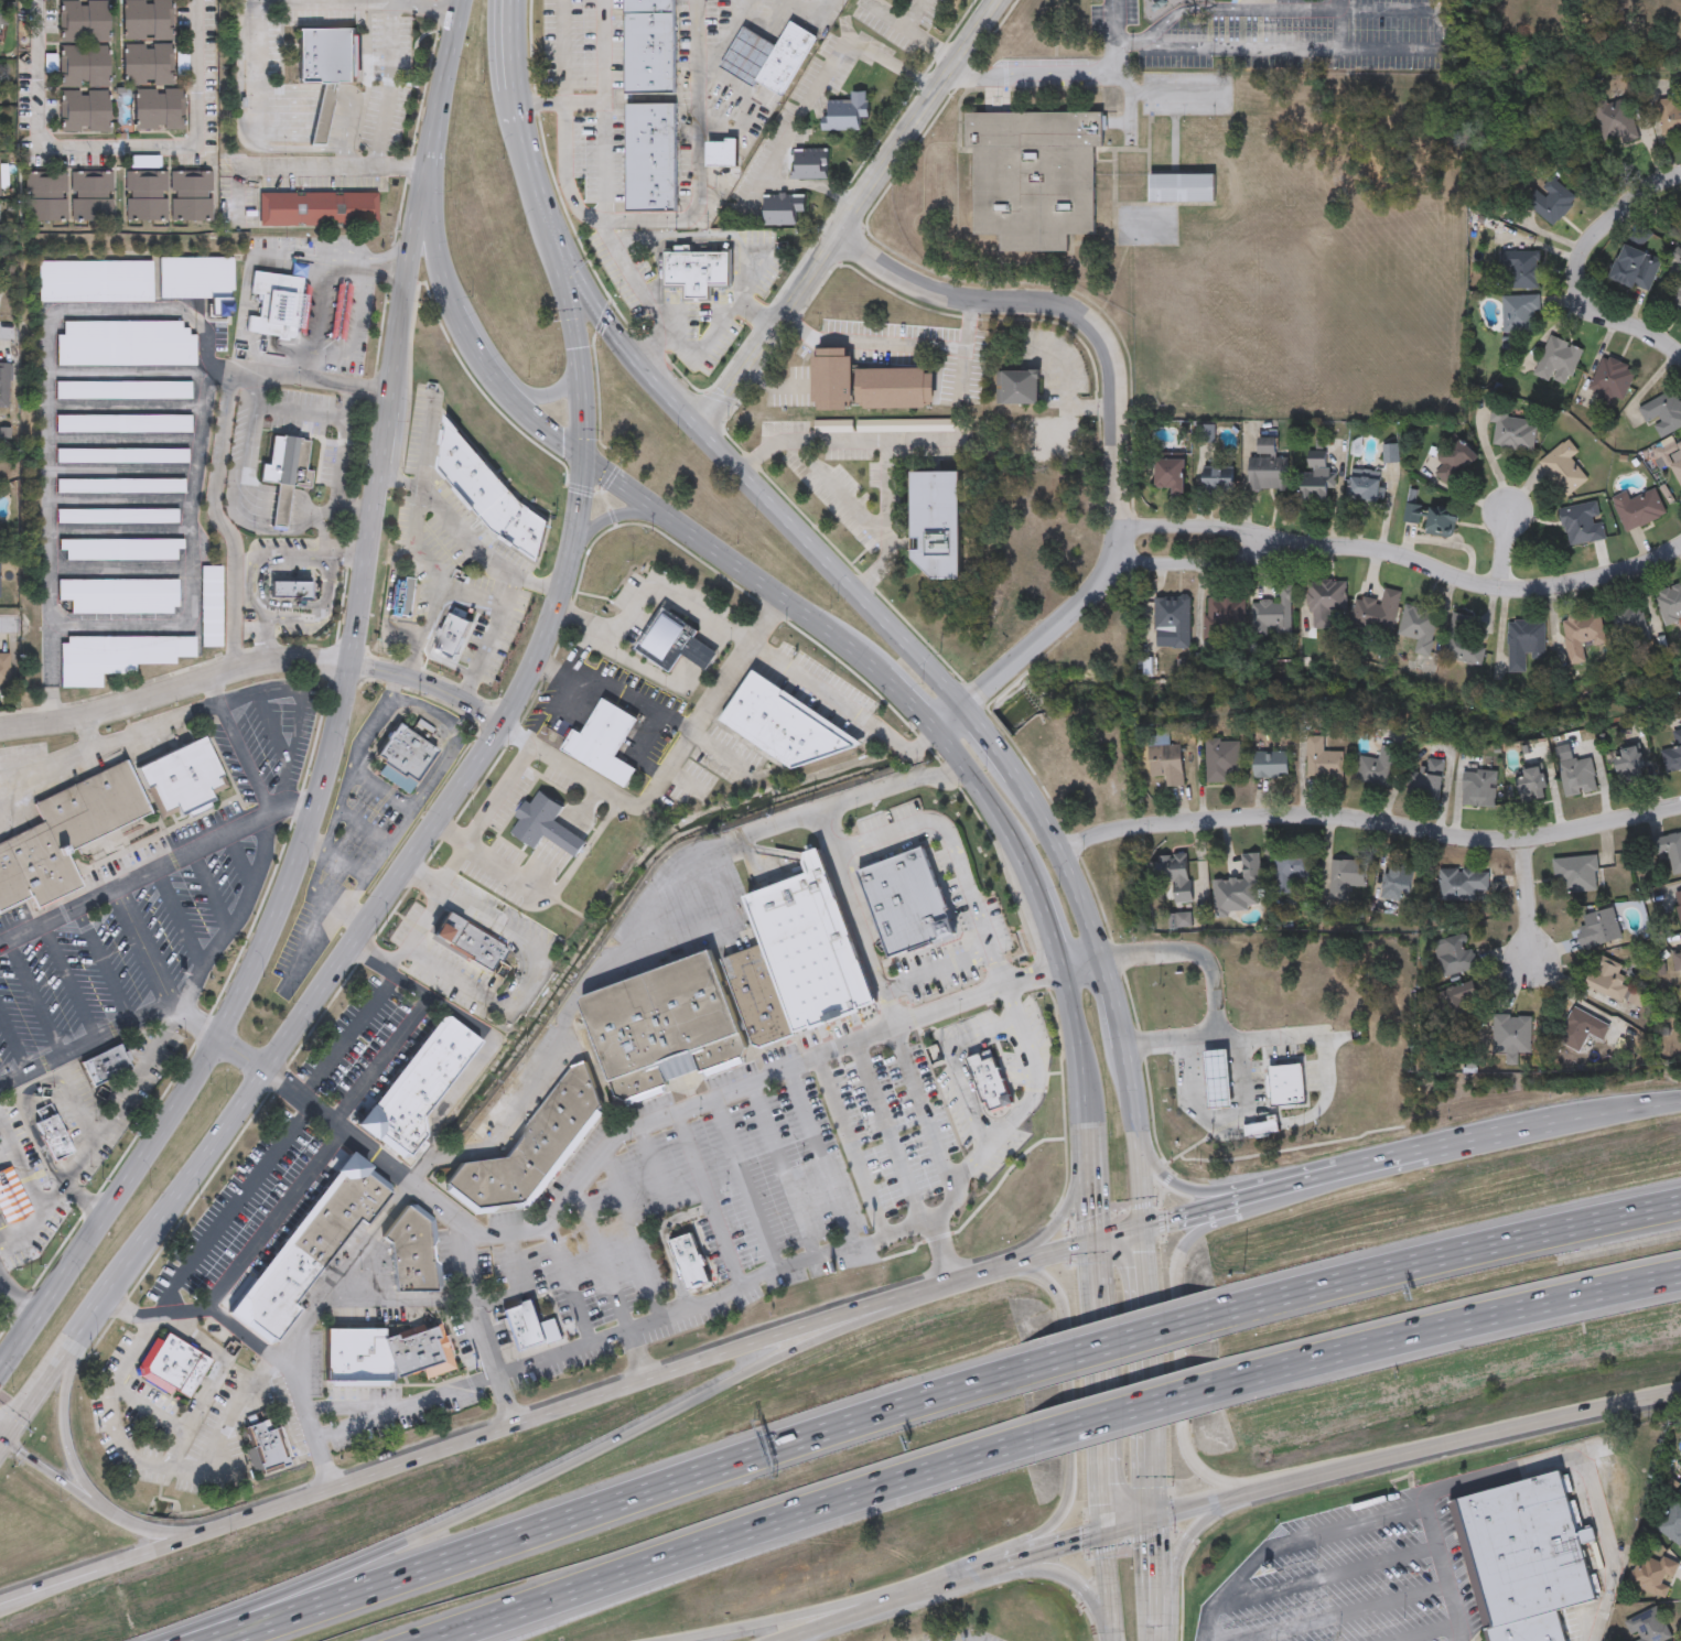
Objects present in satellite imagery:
road: (369, 0)
road: (398, 1)
building: (1548, 1)
building: (83, 21)
building: (146, 21)
building: (1677, 41)
road: (511, 43)
building: (650, 46)
road: (1253, 48)
road: (562, 52)
building: (327, 55)
road: (258, 58)
building: (771, 58)
building: (83, 65)
building: (147, 65)
road: (1071, 73)
road: (200, 75)
road: (390, 85)
road: (1164, 93)
road: (516, 97)
building: (159, 109)
road: (801, 109)
building: (83, 110)
road: (323, 114)
building: (849, 114)
road: (289, 115)
building: (1670, 118)
building: (1617, 122)
road: (346, 133)
road: (50, 140)
road: (429, 154)
building: (722, 154)
building: (651, 159)
road: (891, 159)
building: (811, 165)
road: (328, 166)
road: (531, 173)
building: (1034, 179)
building: (1182, 190)
building: (46, 196)
building: (91, 196)
building: (146, 196)
building: (190, 196)
building: (1551, 202)
building: (319, 210)
building: (783, 210)
road: (666, 218)
road: (381, 259)
building: (1521, 268)
building: (1637, 269)
road: (1575, 271)
building: (697, 272)
road: (378, 276)
building: (96, 282)
building: (200, 283)
building: (282, 292)
building: (1675, 296)
traffic signals: (596, 313)
building: (1520, 314)
road: (675, 339)
road: (762, 339)
building: (126, 345)
road: (471, 346)
road: (578, 346)
road: (893, 346)
road: (654, 350)
traffic signals: (579, 354)
road: (317, 357)
building: (1559, 363)
building: (7, 370)
road: (276, 374)
road: (961, 376)
building: (832, 380)
building: (1614, 380)
road: (773, 386)
building: (1021, 388)
building: (895, 390)
building: (126, 392)
road: (549, 393)
road: (721, 396)
road: (285, 408)
road: (1113, 409)
building: (1662, 414)
building: (125, 425)
building: (1515, 432)
road: (886, 445)
road: (50, 446)
building: (1268, 447)
building: (1679, 447)
building: (1391, 454)
building: (123, 456)
traffic signals: (575, 458)
building: (1455, 462)
road: (341, 463)
road: (244, 467)
building: (1564, 469)
building: (1677, 472)
building: (1268, 474)
building: (1170, 475)
building: (284, 476)
road: (744, 478)
building: (1218, 479)
building: (1318, 482)
building: (121, 488)
building: (1365, 490)
road: (193, 494)
road: (837, 494)
building: (488, 496)
building: (1639, 509)
road: (280, 510)
road: (311, 511)
building: (1414, 515)
building: (117, 518)
road: (224, 521)
road: (610, 521)
building: (1442, 522)
building: (1583, 523)
building: (936, 526)
road: (1193, 526)
road: (683, 530)
road: (461, 537)
building: (0, 538)
road: (1502, 549)
building: (120, 550)
road: (257, 557)
road: (345, 558)
road: (1194, 563)
road: (1474, 583)
building: (290, 591)
road: (647, 594)
road: (507, 595)
building: (119, 597)
building: (401, 600)
building: (1326, 600)
building: (1670, 605)
building: (211, 608)
road: (317, 612)
building: (1377, 614)
building: (1274, 616)
building: (1222, 618)
building: (1174, 620)
road: (9, 622)
building: (1420, 628)
building: (1629, 628)
road: (492, 631)
building: (1582, 636)
road: (429, 637)
road: (267, 639)
building: (1468, 639)
building: (451, 641)
building: (672, 641)
building: (1527, 645)
road: (577, 656)
building: (117, 658)
road: (250, 668)
building: (4, 669)
road: (390, 685)
road: (615, 687)
road: (712, 699)
road: (908, 702)
road: (384, 703)
road: (842, 710)
road: (546, 711)
road: (947, 719)
building: (784, 725)
road: (140, 730)
road: (987, 739)
building: (601, 741)
road: (238, 748)
building: (402, 756)
building: (1673, 756)
building: (1322, 760)
building: (1224, 762)
building: (1166, 765)
building: (1630, 766)
road: (45, 767)
road: (570, 767)
building: (1271, 767)
building: (1377, 769)
building: (1578, 778)
building: (182, 779)
building: (1426, 781)
road: (317, 786)
building: (1532, 786)
building: (1479, 789)
road: (499, 795)
road: (988, 800)
building: (545, 824)
road: (1369, 824)
building: (65, 833)
road: (463, 848)
road: (311, 850)
building: (1670, 851)
road: (953, 853)
road: (1064, 862)
road: (368, 866)
building: (1290, 872)
building: (1577, 874)
road: (132, 877)
building: (1347, 877)
building: (1178, 882)
building: (1398, 883)
building: (1462, 885)
road: (309, 886)
road: (557, 888)
building: (1240, 889)
road: (1527, 899)
building: (906, 902)
parking lot: (155, 905)
building: (1678, 905)
road: (58, 911)
road: (423, 911)
road: (1047, 922)
building: (1599, 930)
road: (862, 932)
road: (518, 935)
building: (468, 940)
building: (809, 947)
building: (1456, 959)
road: (103, 961)
building: (1678, 962)
road: (1080, 963)
road: (331, 969)
road: (936, 969)
road: (454, 978)
road: (67, 979)
building: (1608, 981)
road: (1207, 989)
road: (179, 992)
road: (33, 994)
building: (758, 995)
road: (1113, 1000)
building: (1458, 1013)
building: (662, 1027)
building: (1583, 1030)
building: (1512, 1038)
road: (12, 1041)
road: (488, 1046)
road: (1075, 1049)
road: (238, 1051)
road: (380, 1059)
road: (955, 1062)
building: (105, 1064)
road: (532, 1069)
building: (1216, 1077)
gas station: (1216, 1077)
building: (988, 1079)
building: (1285, 1082)
building: (417, 1090)
road: (122, 1098)
road: (1013, 1112)
road: (1230, 1115)
road: (1619, 1116)
building: (1261, 1127)
road: (897, 1129)
road: (626, 1131)
building: (51, 1132)
road: (1131, 1135)
road: (1506, 1136)
road: (856, 1142)
road: (274, 1149)
building: (529, 1149)
road: (819, 1155)
road: (1357, 1167)
road: (778, 1169)
road: (1172, 1177)
road: (1091, 1183)
road: (737, 1185)
road: (1249, 1194)
building: (11, 1197)
road: (707, 1199)
road: (51, 1205)
road: (1071, 1207)
road: (1188, 1212)
road: (273, 1221)
traffic signals: (1140, 1227)
road: (1117, 1232)
traffic signals: (1095, 1238)
road: (1188, 1243)
road: (939, 1251)
road: (1451, 1254)
building: (310, 1255)
building: (410, 1255)
road: (1095, 1257)
building: (689, 1262)
road: (776, 1266)
road: (1004, 1266)
parking lot: (4, 1281)
road: (519, 1285)
road: (394, 1300)
road: (12, 1302)
road: (1456, 1322)
building: (525, 1328)
road: (1127, 1339)
road: (133, 1347)
road: (1145, 1351)
building: (384, 1357)
road: (277, 1360)
building: (175, 1367)
road: (511, 1368)
road: (430, 1396)
road: (1099, 1406)
road: (1134, 1408)
road: (547, 1414)
road: (226, 1424)
road: (69, 1434)
road: (1067, 1435)
road: (118, 1440)
road: (1, 1443)
traffic signals: (2, 1444)
road: (1, 1445)
building: (267, 1450)
road: (1414, 1454)
road: (50, 1476)
road: (538, 1478)
road: (1454, 1485)
road: (622, 1500)
building: (1671, 1523)
traffic signals: (1152, 1525)
road: (137, 1530)
traffic signals: (1103, 1535)
road: (730, 1536)
road: (1057, 1547)
building: (1520, 1550)
road: (1179, 1552)
road: (1152, 1558)
road: (90, 1567)
road: (1438, 1573)
building: (1650, 1574)
road: (1053, 1576)
road: (1326, 1576)
road: (941, 1581)
road: (1104, 1588)
road: (790, 1615)
road: (848, 1615)
road: (1347, 1615)
building: (1646, 1627)
building: (1527, 1629)
road: (1424, 1633)
road: (788, 1639)

